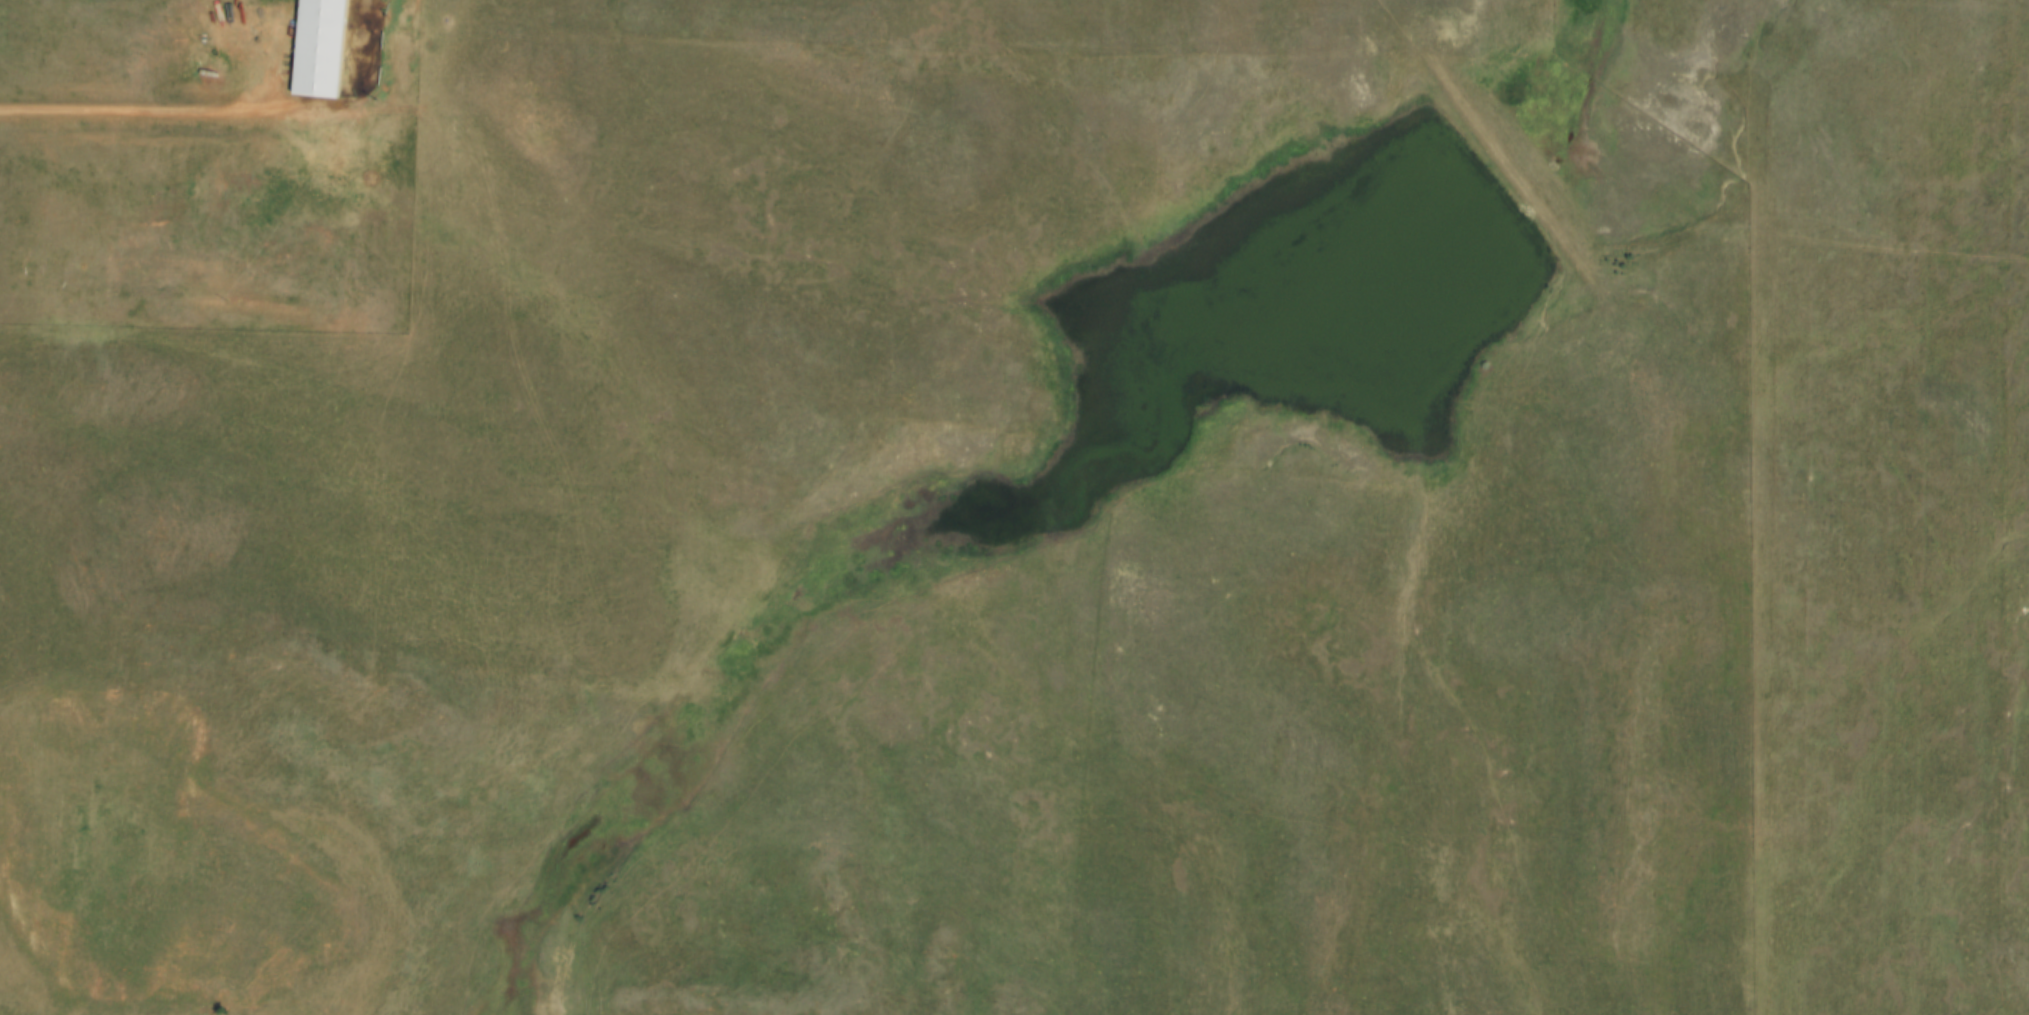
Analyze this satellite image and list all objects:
road: (214, 112)
quarry: (193, 868)
road: (112, 904)

